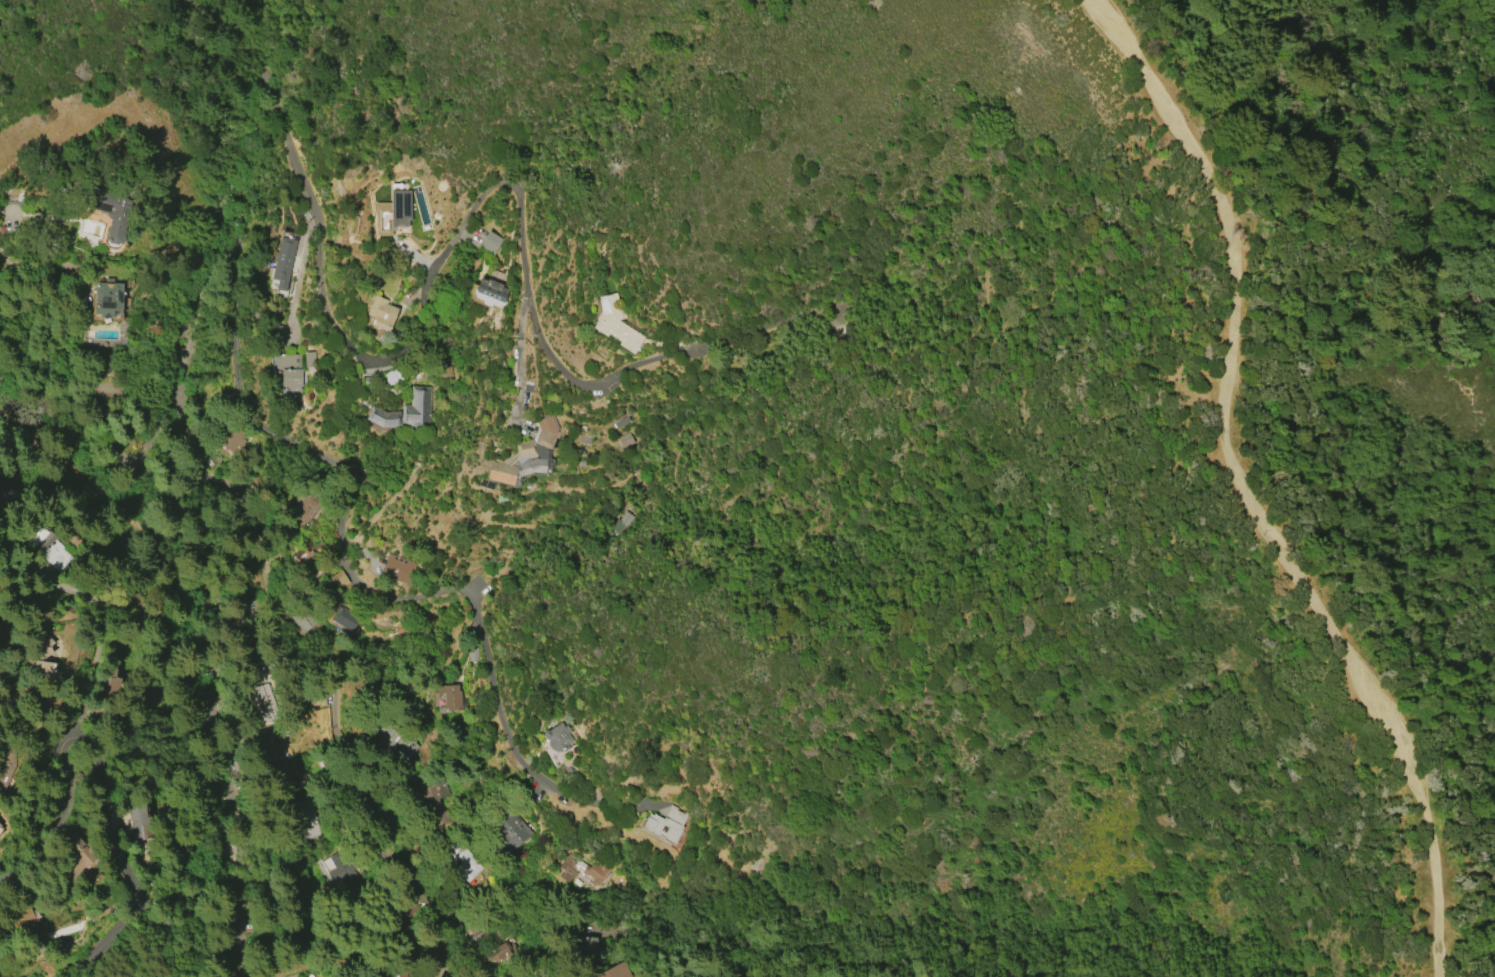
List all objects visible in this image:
building: (112, 211)
building: (391, 213)
building: (491, 241)
building: (282, 262)
road: (431, 292)
building: (489, 293)
building: (107, 299)
building: (381, 313)
building: (616, 324)
building: (276, 334)
building: (309, 359)
road: (183, 370)
building: (289, 370)
building: (392, 376)
building: (418, 409)
building: (382, 419)
building: (232, 436)
road: (81, 437)
building: (585, 439)
building: (625, 439)
building: (526, 455)
road: (1244, 492)
building: (4, 493)
building: (305, 510)
building: (626, 518)
building: (48, 546)
building: (316, 554)
building: (397, 568)
building: (338, 580)
road: (383, 592)
building: (344, 618)
building: (299, 620)
building: (1, 631)
building: (40, 647)
road: (347, 670)
building: (39, 673)
building: (450, 699)
building: (264, 703)
road: (229, 730)
building: (390, 737)
building: (557, 737)
building: (265, 747)
road: (110, 776)
building: (288, 787)
building: (306, 820)
building: (0, 823)
building: (0, 825)
building: (664, 825)
building: (1, 828)
building: (508, 828)
building: (461, 858)
building: (74, 860)
building: (582, 869)
building: (15, 918)
road: (618, 934)
road: (1470, 944)
building: (589, 947)
road: (463, 950)
building: (504, 953)
road: (378, 960)
building: (302, 971)
building: (615, 971)

